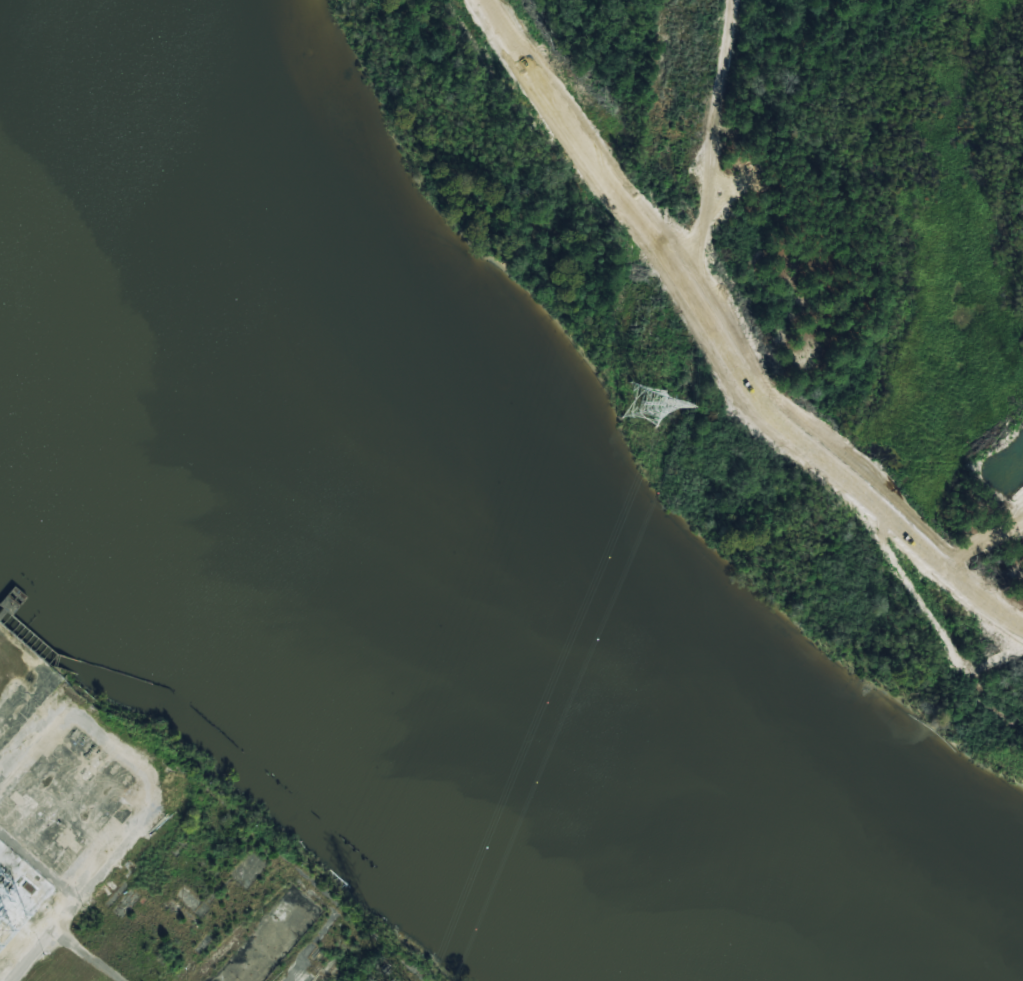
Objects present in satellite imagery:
river: (69, 281)
power tower: (640, 404)
river: (336, 564)
power substation: (27, 887)

